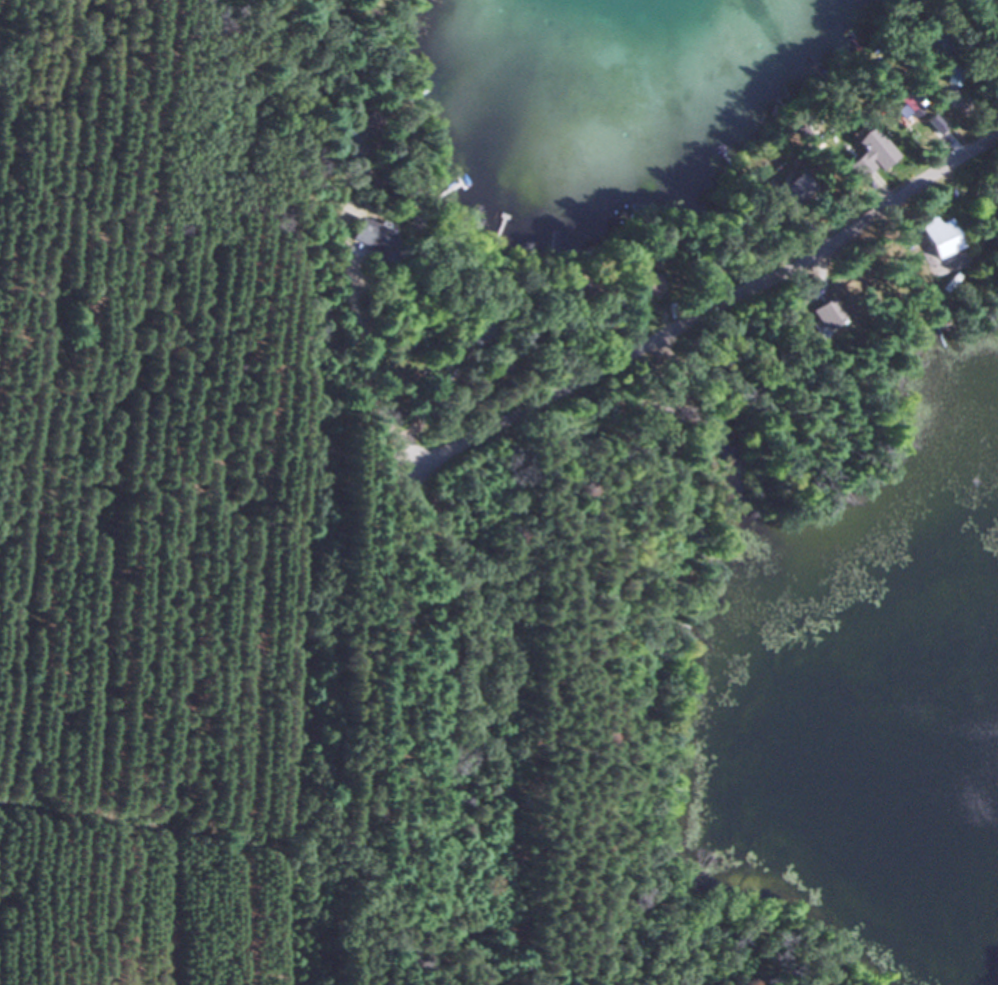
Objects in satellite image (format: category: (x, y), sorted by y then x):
building: (904, 105)
building: (366, 124)
building: (799, 186)
building: (933, 237)
building: (368, 240)
building: (643, 281)
road: (739, 295)
building: (826, 315)
building: (471, 335)
road: (368, 365)
building: (490, 368)
road: (452, 448)

